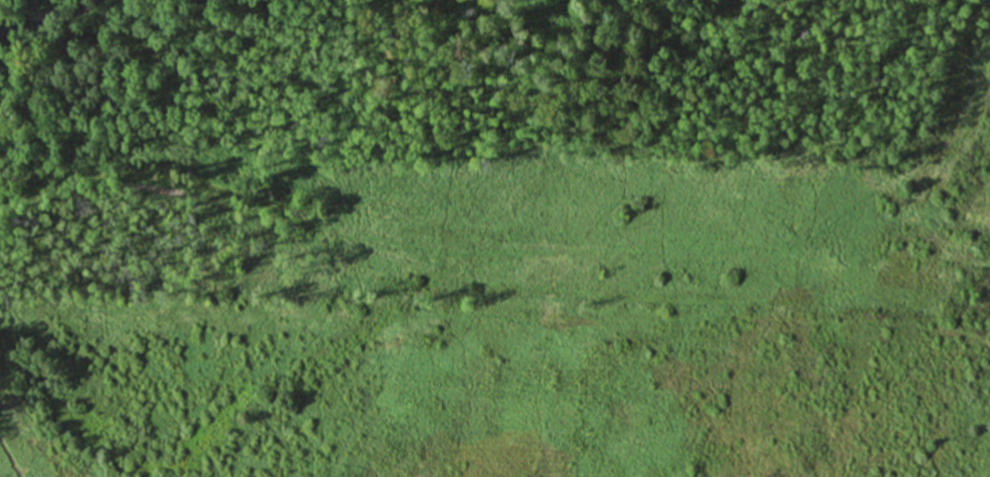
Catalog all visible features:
river: (62, 31)

